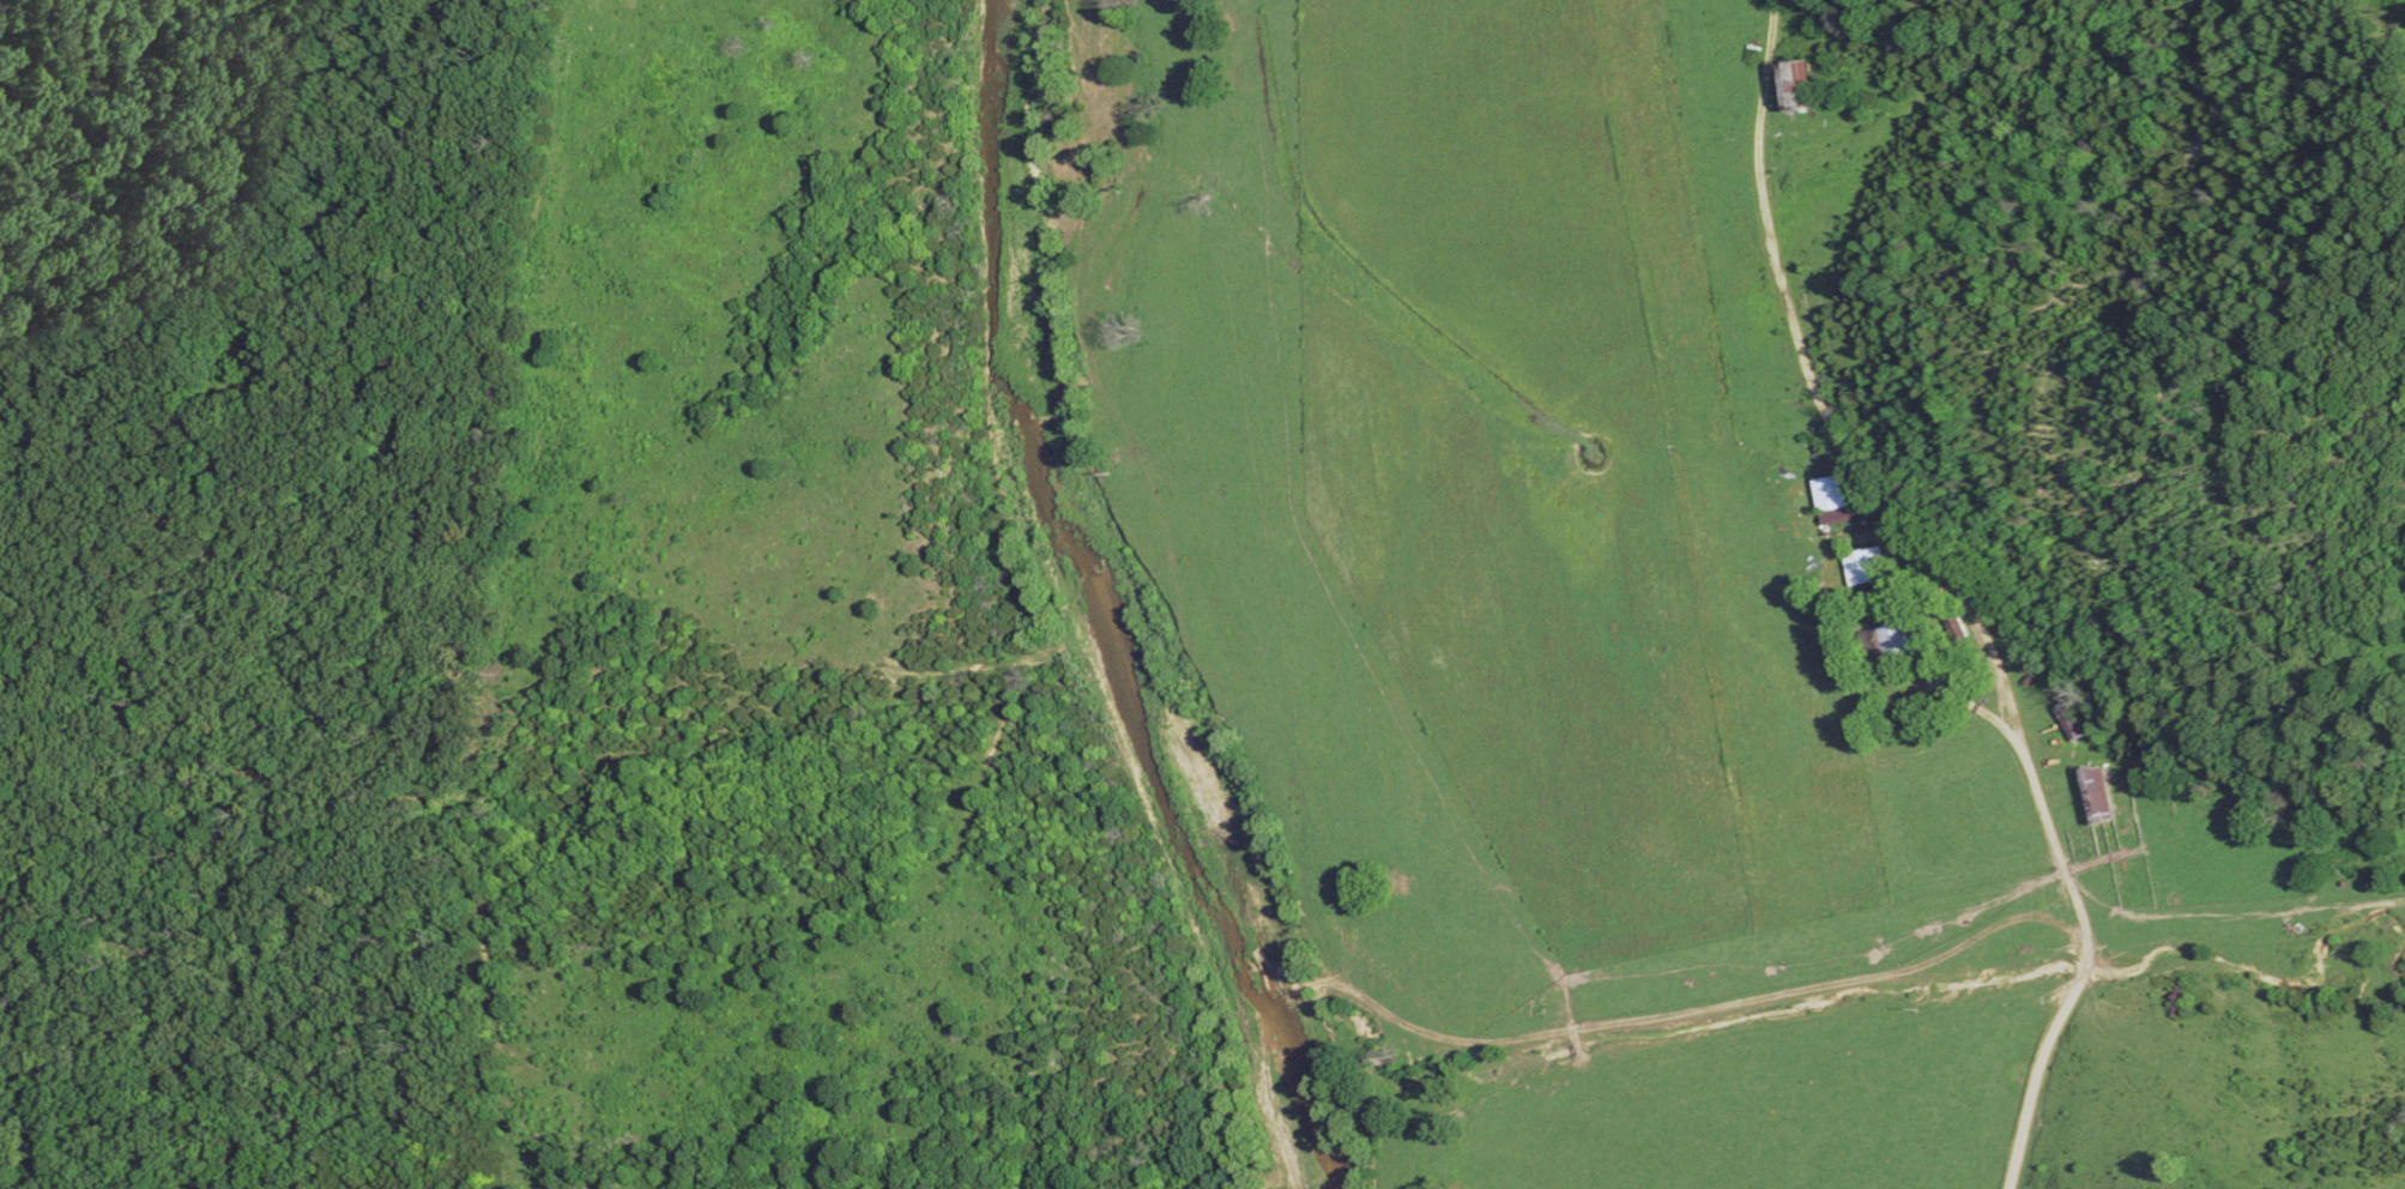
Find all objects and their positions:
building: (1841, 493)
building: (1873, 565)
road: (1962, 589)
road: (1969, 698)

